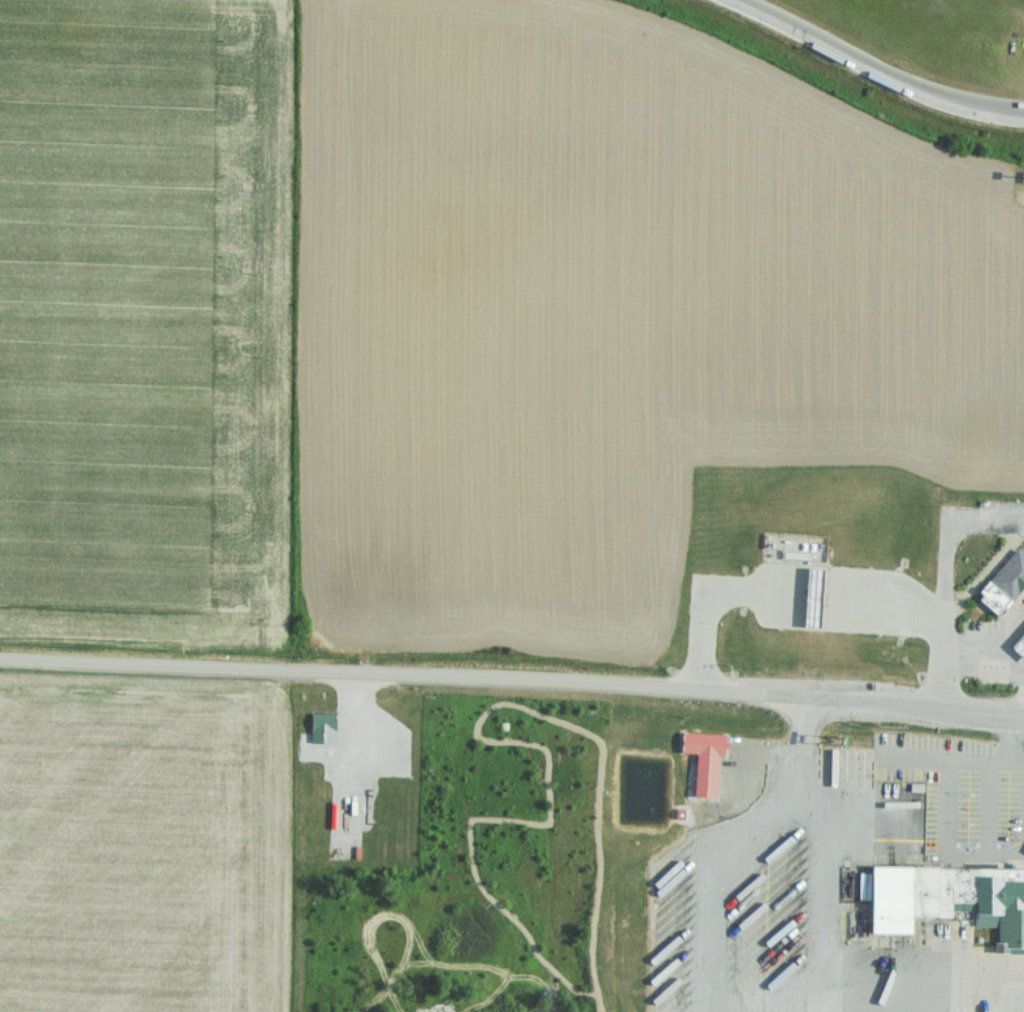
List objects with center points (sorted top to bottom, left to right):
road: (875, 69)
crop: (613, 316)
crop: (144, 324)
building: (800, 547)
road: (945, 579)
building: (1005, 585)
gas station: (815, 597)
road: (1011, 630)
building: (1019, 646)
gas station: (1021, 646)
road: (986, 647)
road: (512, 677)
building: (320, 727)
building: (705, 760)
road: (896, 762)
road: (1017, 768)
road: (884, 846)
building: (950, 903)
road: (964, 987)

